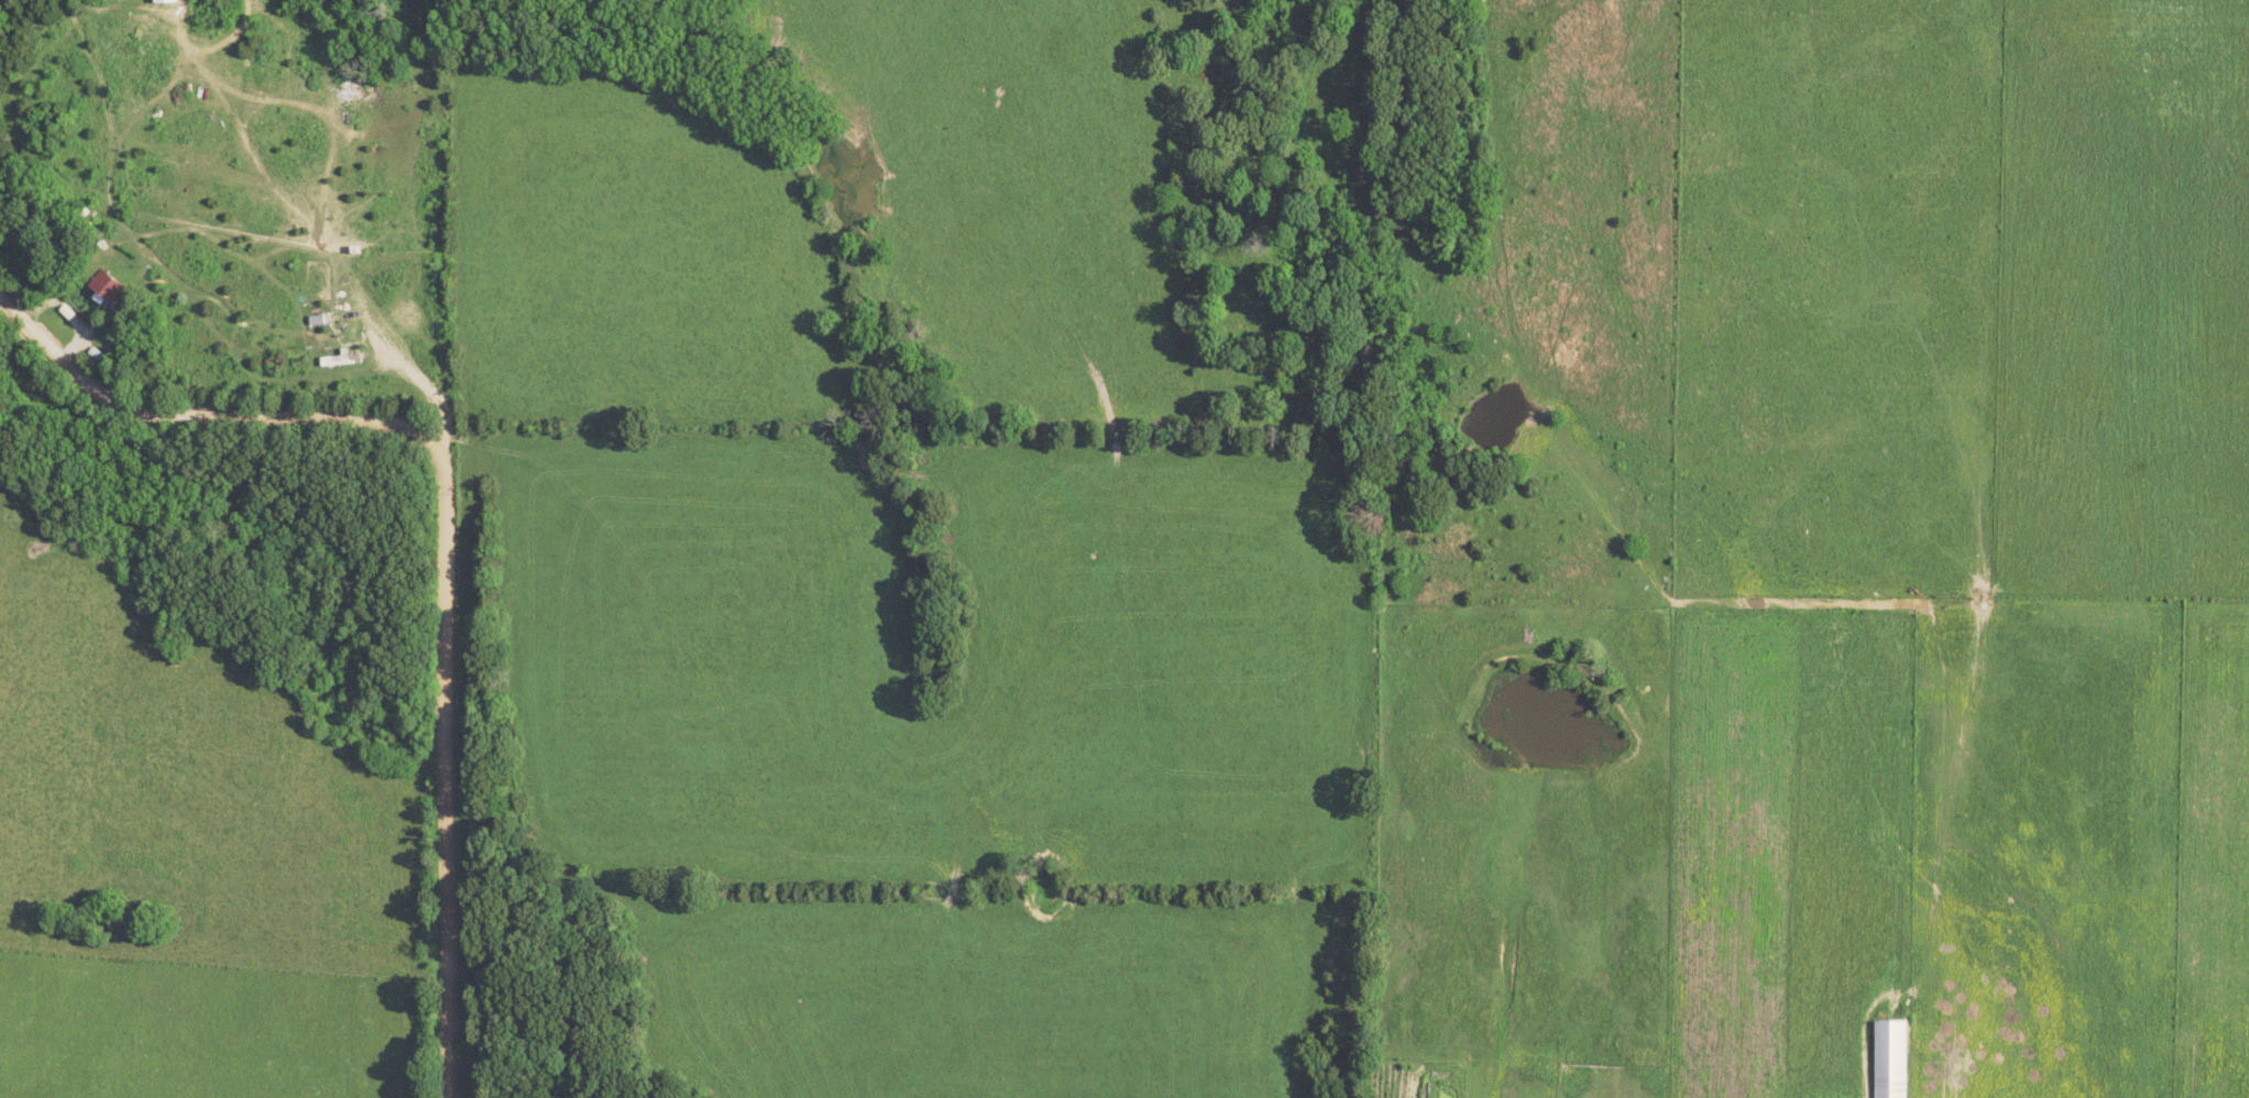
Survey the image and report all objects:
building: (171, 1)
building: (110, 287)
road: (439, 529)
building: (1887, 1059)

